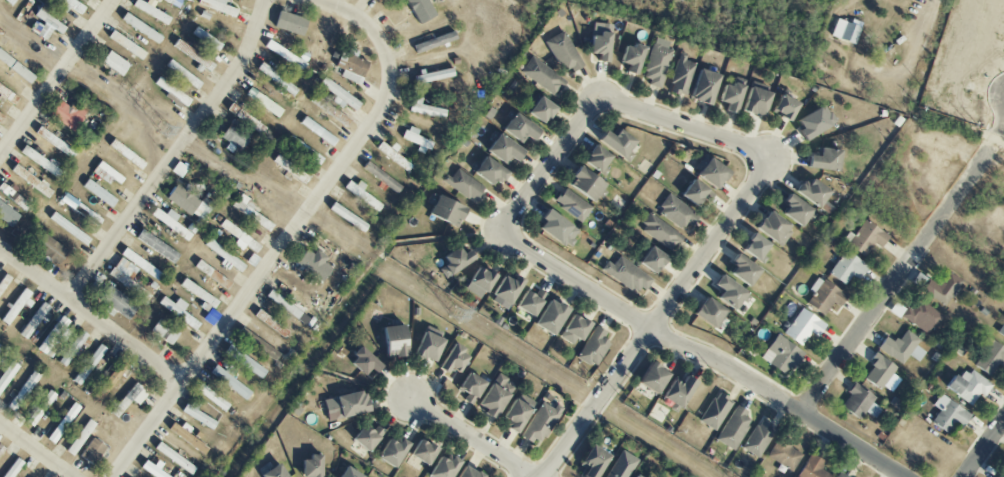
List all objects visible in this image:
building: (376, 0)
building: (10, 1)
building: (74, 6)
building: (217, 6)
building: (152, 12)
road: (361, 19)
building: (45, 22)
building: (289, 23)
building: (140, 27)
building: (846, 30)
building: (206, 39)
building: (121, 41)
building: (433, 42)
building: (598, 45)
building: (563, 52)
building: (284, 55)
building: (193, 56)
building: (631, 57)
building: (657, 62)
building: (115, 63)
building: (350, 67)
building: (183, 75)
building: (542, 76)
road: (56, 77)
building: (431, 77)
building: (681, 77)
building: (703, 86)
building: (172, 92)
building: (8, 95)
building: (731, 95)
building: (339, 96)
road: (605, 100)
building: (754, 101)
building: (264, 102)
building: (783, 107)
building: (425, 109)
building: (540, 109)
building: (67, 115)
building: (241, 115)
building: (1, 117)
building: (814, 121)
road: (1002, 126)
building: (519, 128)
building: (318, 131)
power tower: (165, 133)
building: (234, 139)
building: (416, 139)
building: (55, 143)
building: (615, 143)
building: (503, 150)
building: (304, 151)
building: (126, 154)
road: (175, 154)
building: (395, 156)
building: (595, 158)
building: (823, 159)
building: (290, 169)
building: (489, 171)
building: (710, 173)
building: (106, 174)
building: (382, 177)
building: (31, 181)
building: (584, 183)
building: (463, 185)
building: (811, 191)
building: (695, 192)
building: (99, 193)
building: (363, 196)
building: (17, 201)
building: (189, 203)
building: (572, 205)
building: (81, 208)
building: (794, 209)
building: (249, 210)
building: (446, 211)
building: (676, 212)
building: (7, 215)
building: (347, 217)
building: (171, 223)
building: (68, 228)
building: (555, 228)
building: (772, 228)
building: (660, 232)
building: (865, 238)
building: (156, 246)
building: (753, 246)
building: (50, 249)
building: (224, 255)
building: (651, 259)
building: (454, 260)
building: (313, 264)
building: (847, 268)
building: (741, 269)
road: (263, 272)
building: (626, 275)
building: (126, 278)
building: (480, 279)
road: (895, 280)
building: (3, 283)
building: (942, 288)
building: (505, 291)
building: (726, 291)
building: (824, 297)
building: (118, 302)
building: (528, 302)
building: (282, 304)
building: (16, 307)
building: (177, 311)
building: (707, 312)
road: (90, 316)
building: (921, 316)
power tower: (457, 317)
building: (548, 317)
road: (658, 320)
building: (35, 322)
building: (270, 324)
building: (802, 327)
building: (572, 330)
building: (1001, 330)
building: (165, 332)
building: (55, 334)
building: (392, 341)
building: (428, 343)
building: (260, 347)
building: (593, 347)
building: (901, 347)
building: (73, 349)
road: (700, 355)
building: (780, 355)
building: (989, 358)
building: (452, 359)
building: (244, 361)
building: (363, 361)
building: (89, 365)
building: (878, 372)
building: (7, 374)
building: (651, 378)
building: (229, 380)
building: (110, 381)
building: (966, 386)
building: (470, 387)
building: (24, 391)
building: (677, 391)
building: (494, 395)
building: (212, 397)
building: (128, 400)
building: (859, 403)
building: (344, 405)
building: (40, 408)
building: (517, 411)
building: (715, 411)
building: (197, 414)
building: (947, 414)
building: (540, 423)
building: (60, 427)
building: (733, 428)
building: (186, 436)
building: (366, 437)
building: (80, 438)
building: (758, 438)
road: (470, 439)
building: (1, 450)
road: (36, 450)
road: (985, 450)
building: (391, 451)
building: (421, 451)
building: (91, 452)
building: (784, 456)
building: (174, 458)
building: (592, 461)
building: (621, 465)
building: (309, 466)
building: (442, 467)
building: (13, 468)
building: (812, 468)
building: (150, 470)
building: (273, 472)
building: (466, 472)
building: (348, 473)
building: (839, 475)
building: (999, 475)
building: (634, 476)

